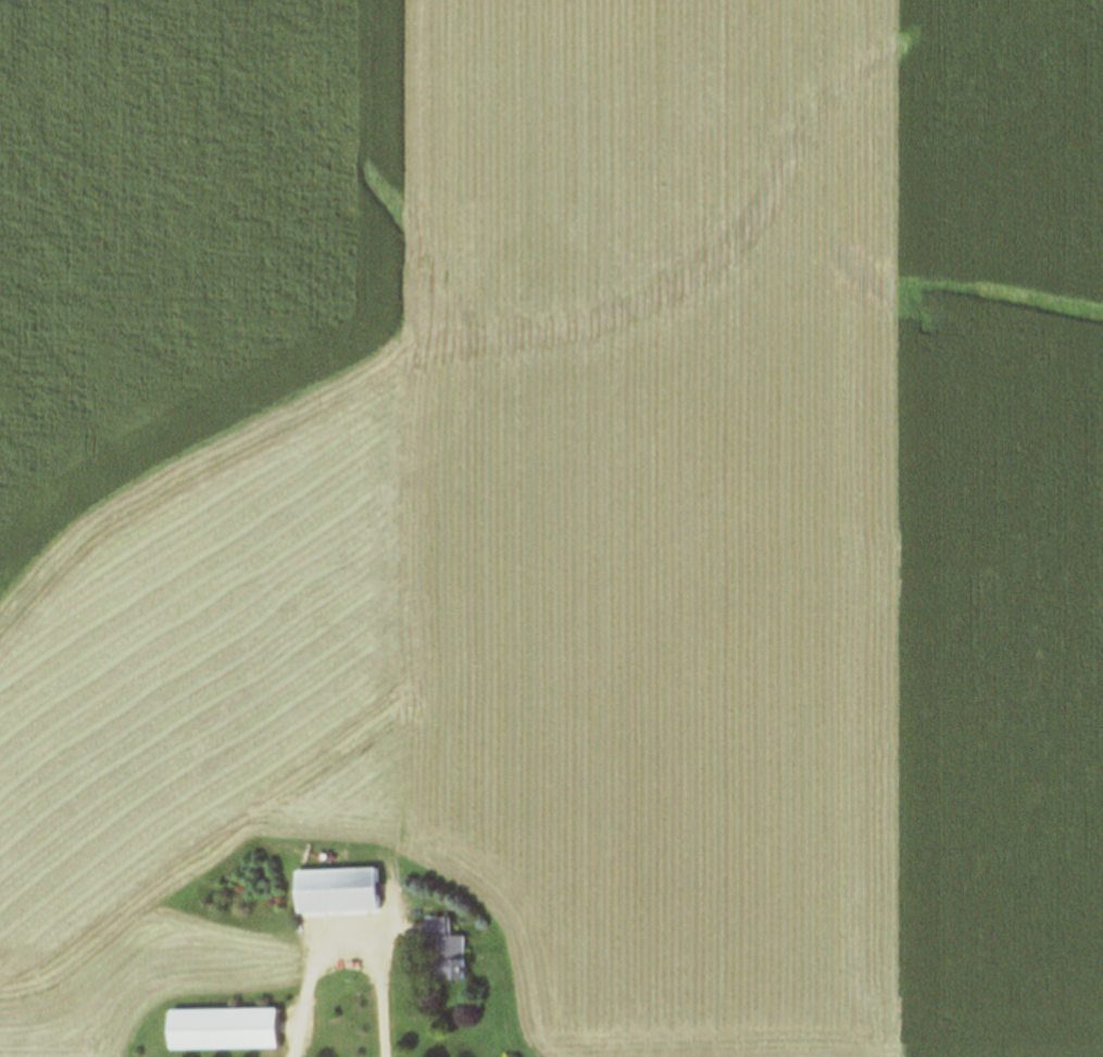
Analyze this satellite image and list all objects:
building: (334, 891)
building: (443, 949)
building: (218, 1029)

